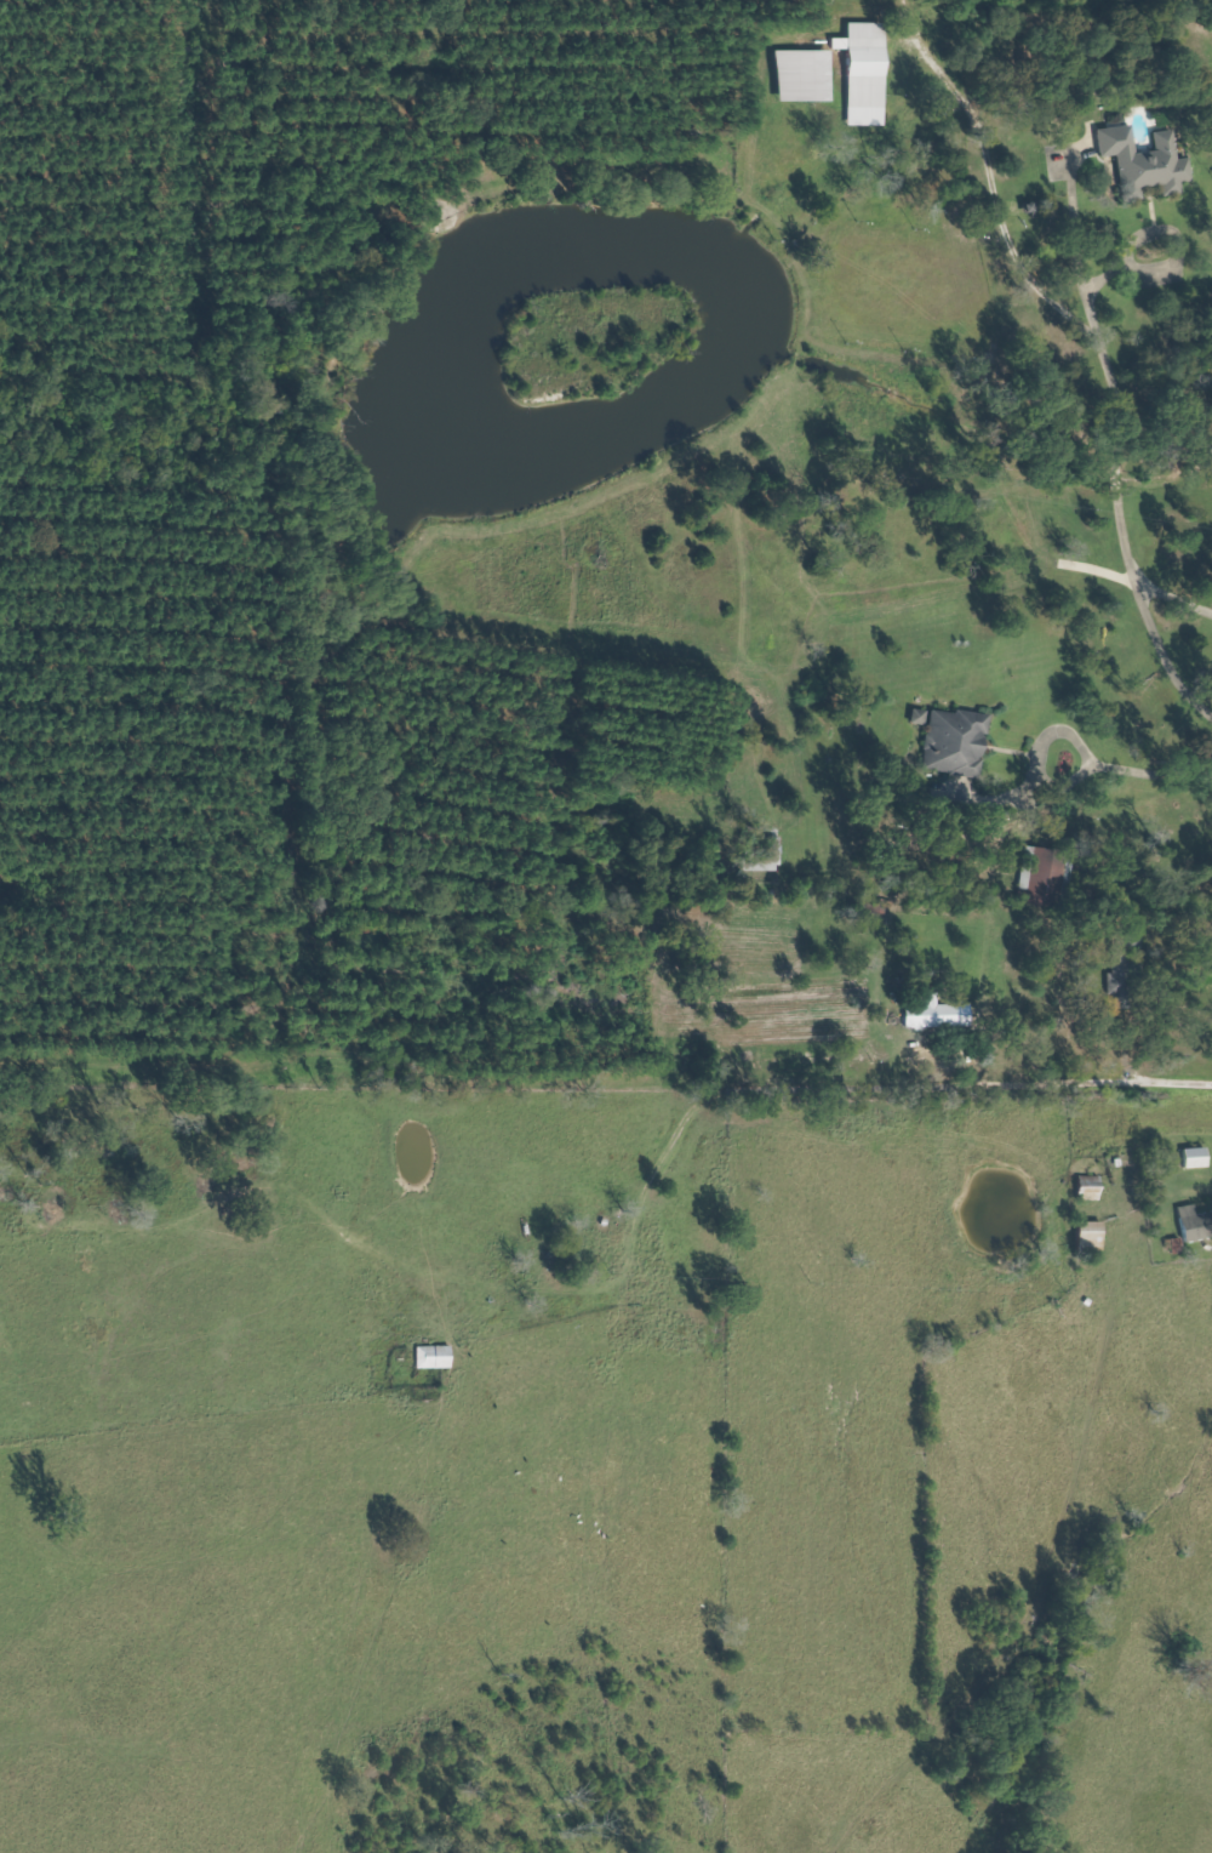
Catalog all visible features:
building: (871, 74)
building: (810, 76)
building: (1149, 160)
building: (961, 740)
building: (943, 1015)
road: (967, 1085)
building: (1200, 1157)
building: (1094, 1193)
building: (1197, 1222)
building: (1096, 1235)
building: (438, 1357)

